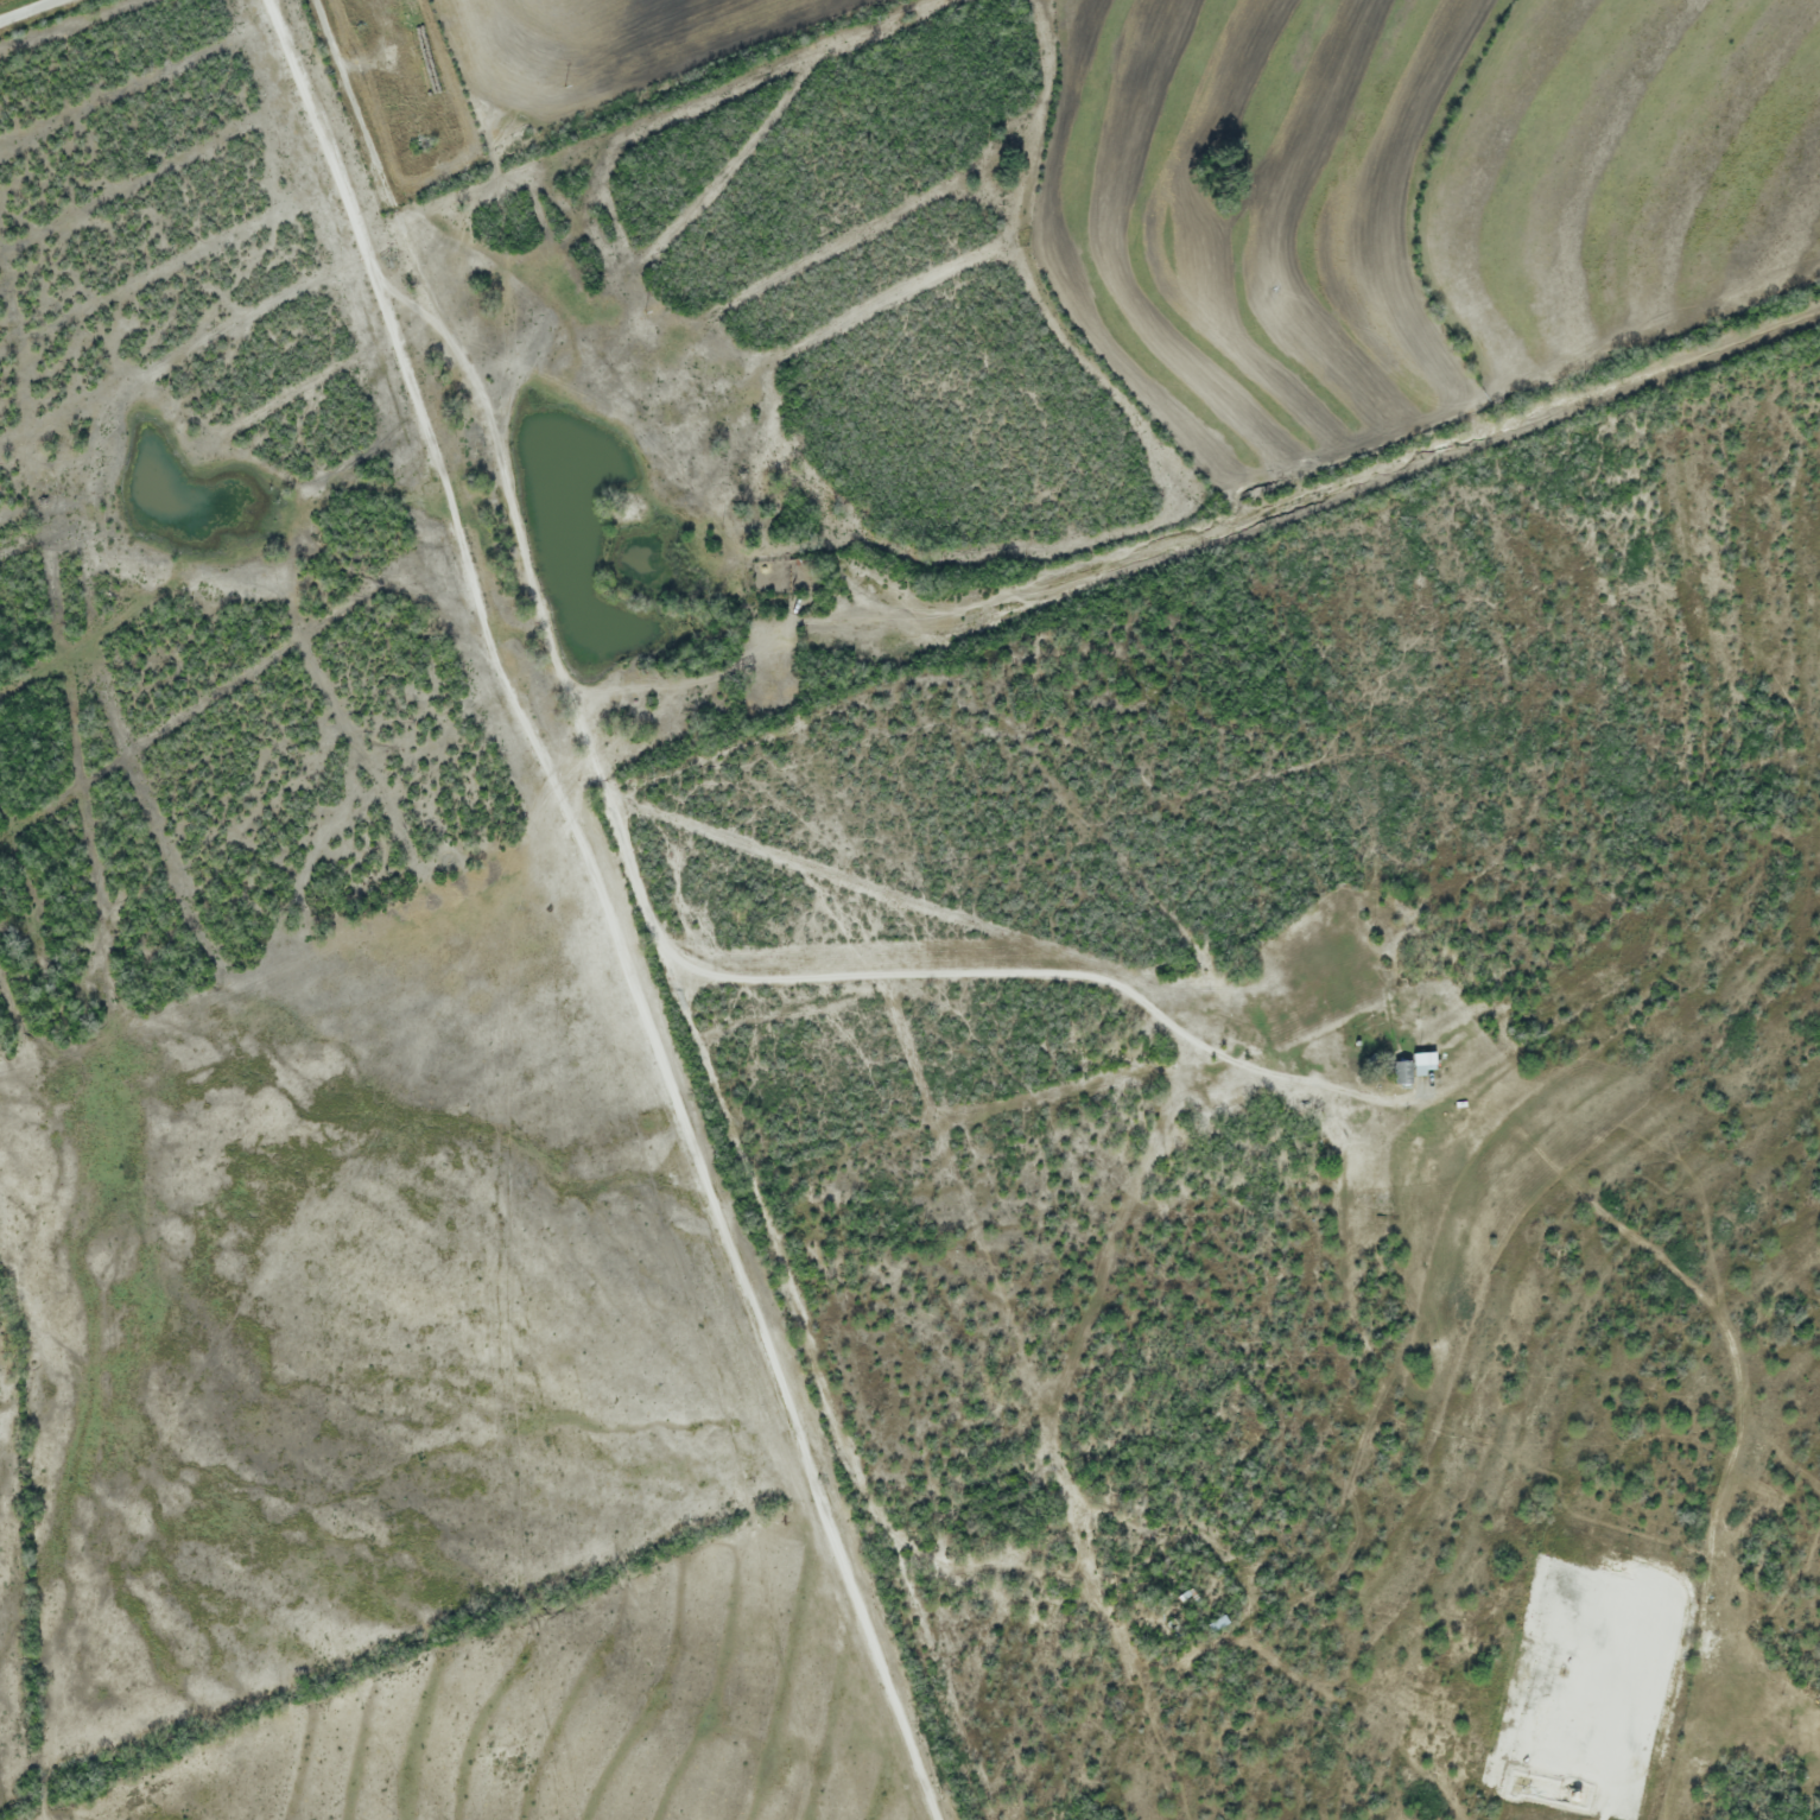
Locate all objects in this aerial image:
road: (31, 11)
road: (420, 397)
building: (1419, 1058)
building: (1400, 1072)
road: (755, 1306)
road: (1611, 1815)

